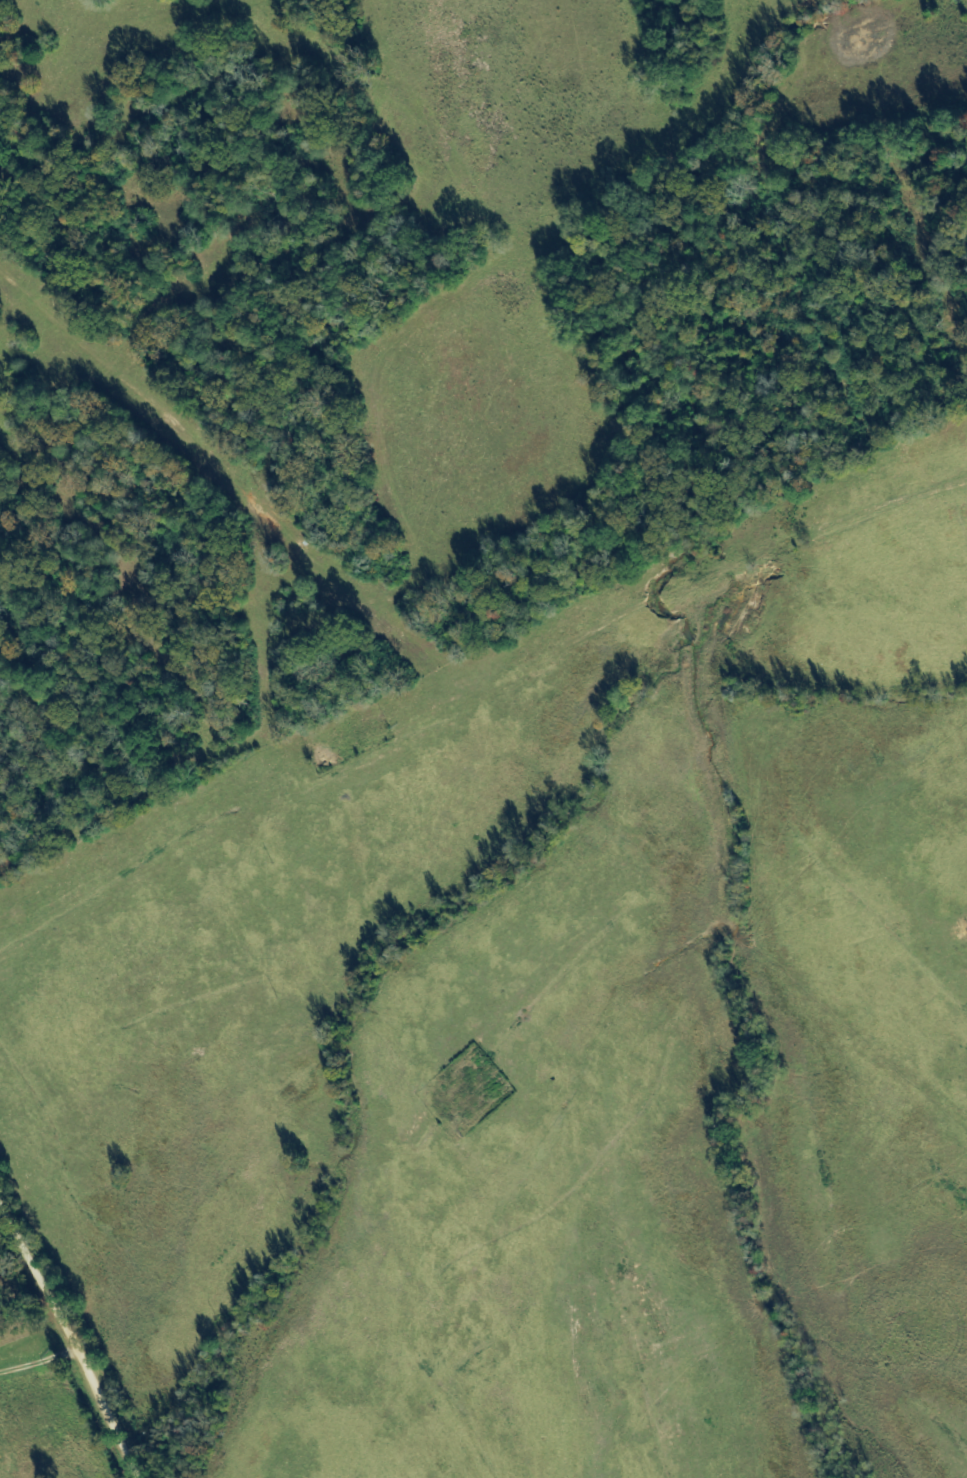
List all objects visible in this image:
road: (745, 174)
road: (419, 664)
road: (483, 672)
road: (71, 1338)

